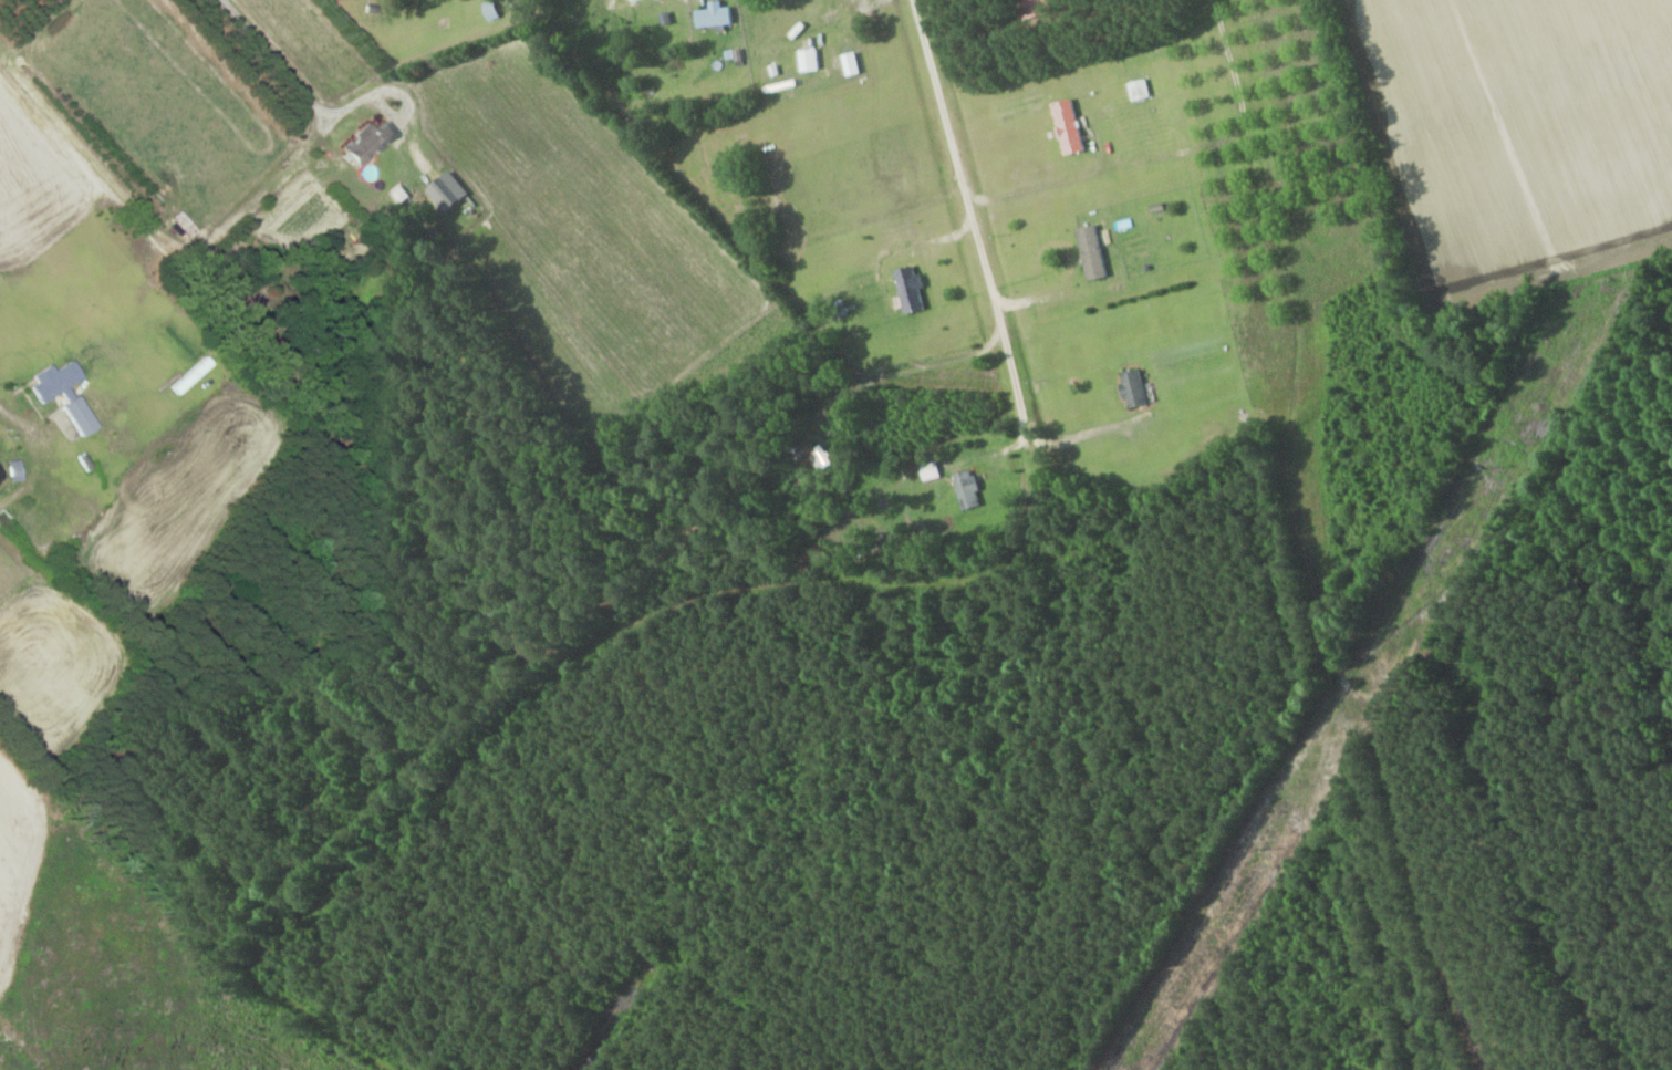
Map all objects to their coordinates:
building: (637, 0)
building: (718, 15)
building: (810, 59)
building: (1141, 90)
building: (1071, 126)
building: (752, 141)
building: (368, 143)
building: (1095, 251)
building: (913, 289)
road: (987, 289)
building: (1140, 387)
building: (67, 394)
building: (822, 461)
building: (969, 488)

